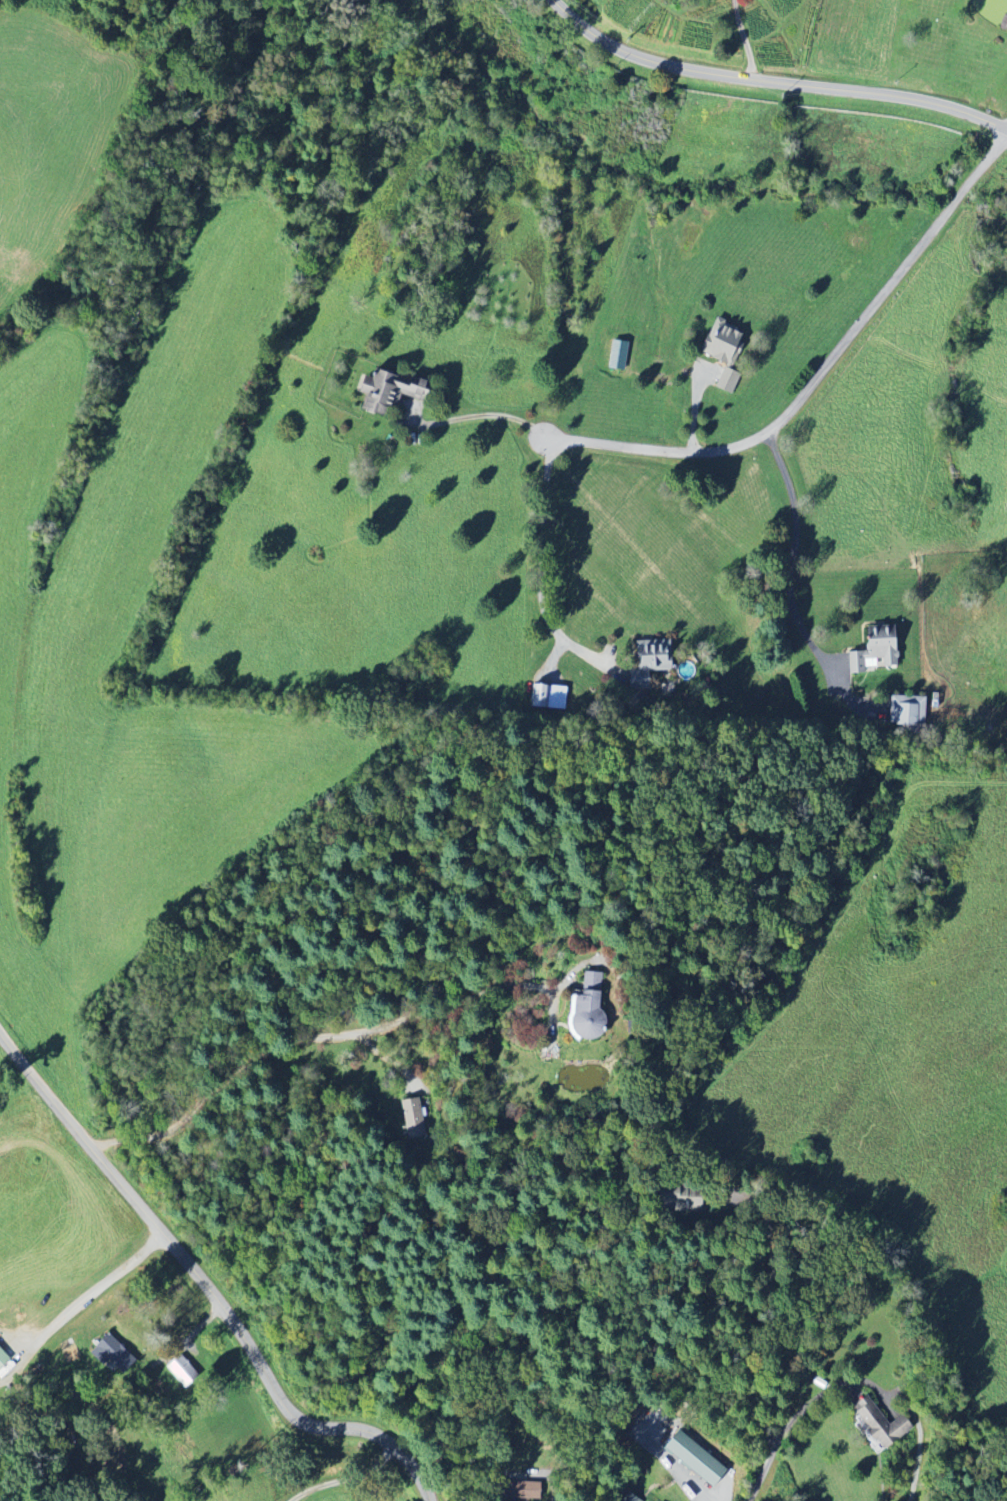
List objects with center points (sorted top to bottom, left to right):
road: (744, 37)
road: (775, 77)
building: (726, 352)
building: (620, 355)
road: (822, 376)
building: (393, 392)
road: (478, 413)
road: (795, 553)
road: (544, 564)
building: (879, 650)
building: (652, 663)
building: (550, 697)
building: (908, 712)
building: (591, 1008)
road: (323, 1036)
building: (414, 1119)
road: (211, 1281)
road: (94, 1293)
road: (764, 1302)
building: (116, 1354)
building: (4, 1358)
building: (184, 1372)
building: (885, 1425)
road: (788, 1428)
building: (699, 1459)
road: (322, 1470)
road: (550, 1479)
road: (447, 1485)
road: (794, 1500)

